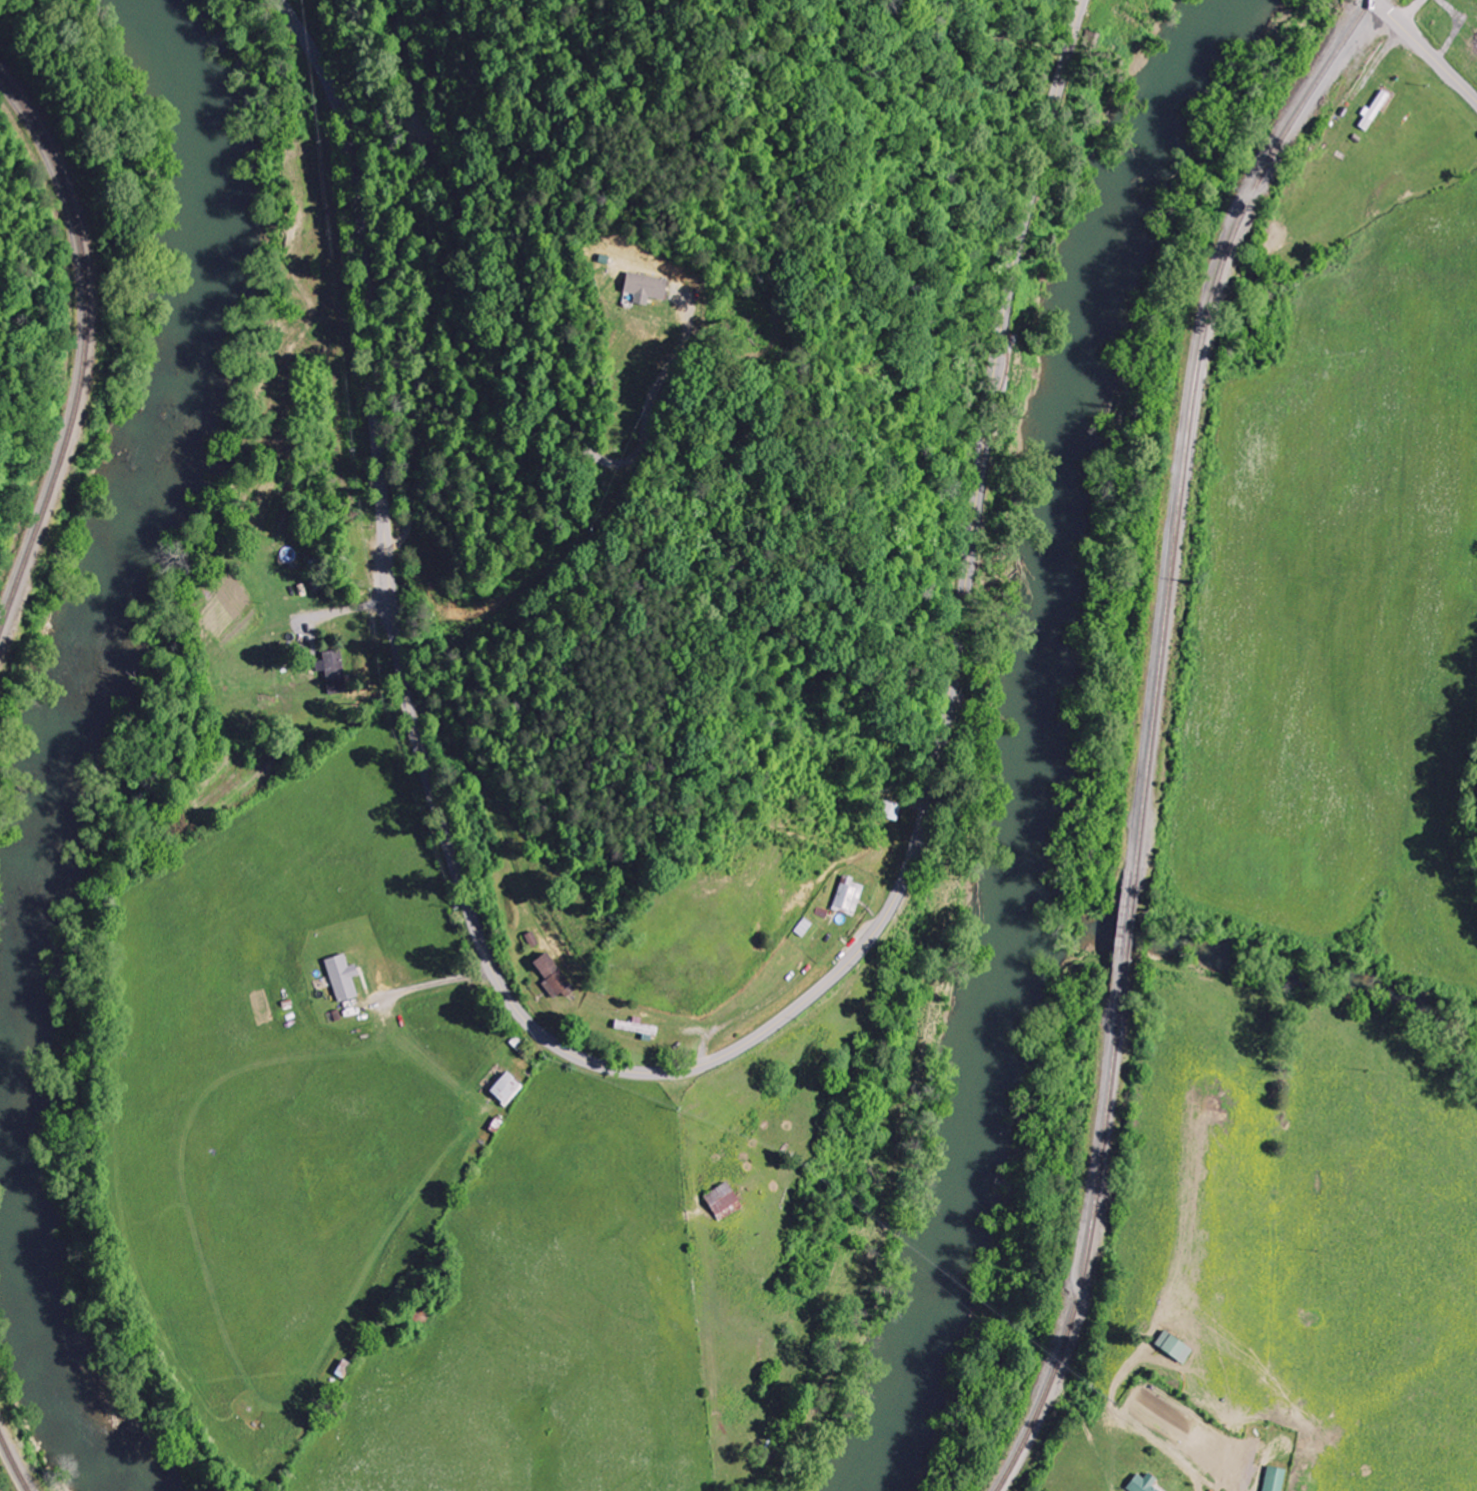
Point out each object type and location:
road: (1425, 49)
building: (1373, 110)
building: (642, 287)
railway: (85, 345)
railway: (1190, 419)
road: (671, 580)
building: (333, 671)
river: (1016, 740)
river: (62, 755)
building: (891, 811)
building: (848, 896)
railway: (1130, 936)
building: (550, 975)
building: (340, 978)
building: (634, 1027)
road: (665, 1070)
building: (504, 1089)
building: (720, 1202)
railway: (1088, 1250)
building: (1172, 1348)
railway: (14, 1466)
building: (1274, 1479)
building: (1141, 1484)

